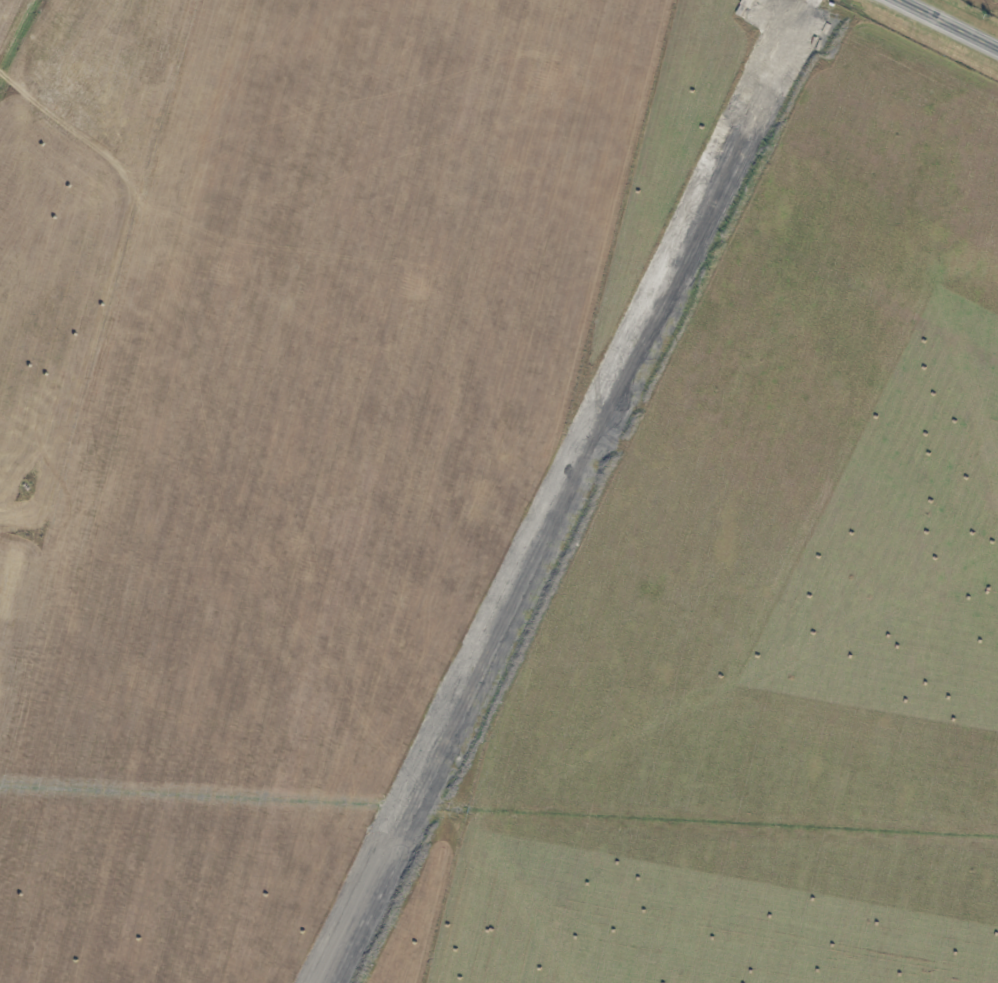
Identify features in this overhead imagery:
road: (950, 23)

